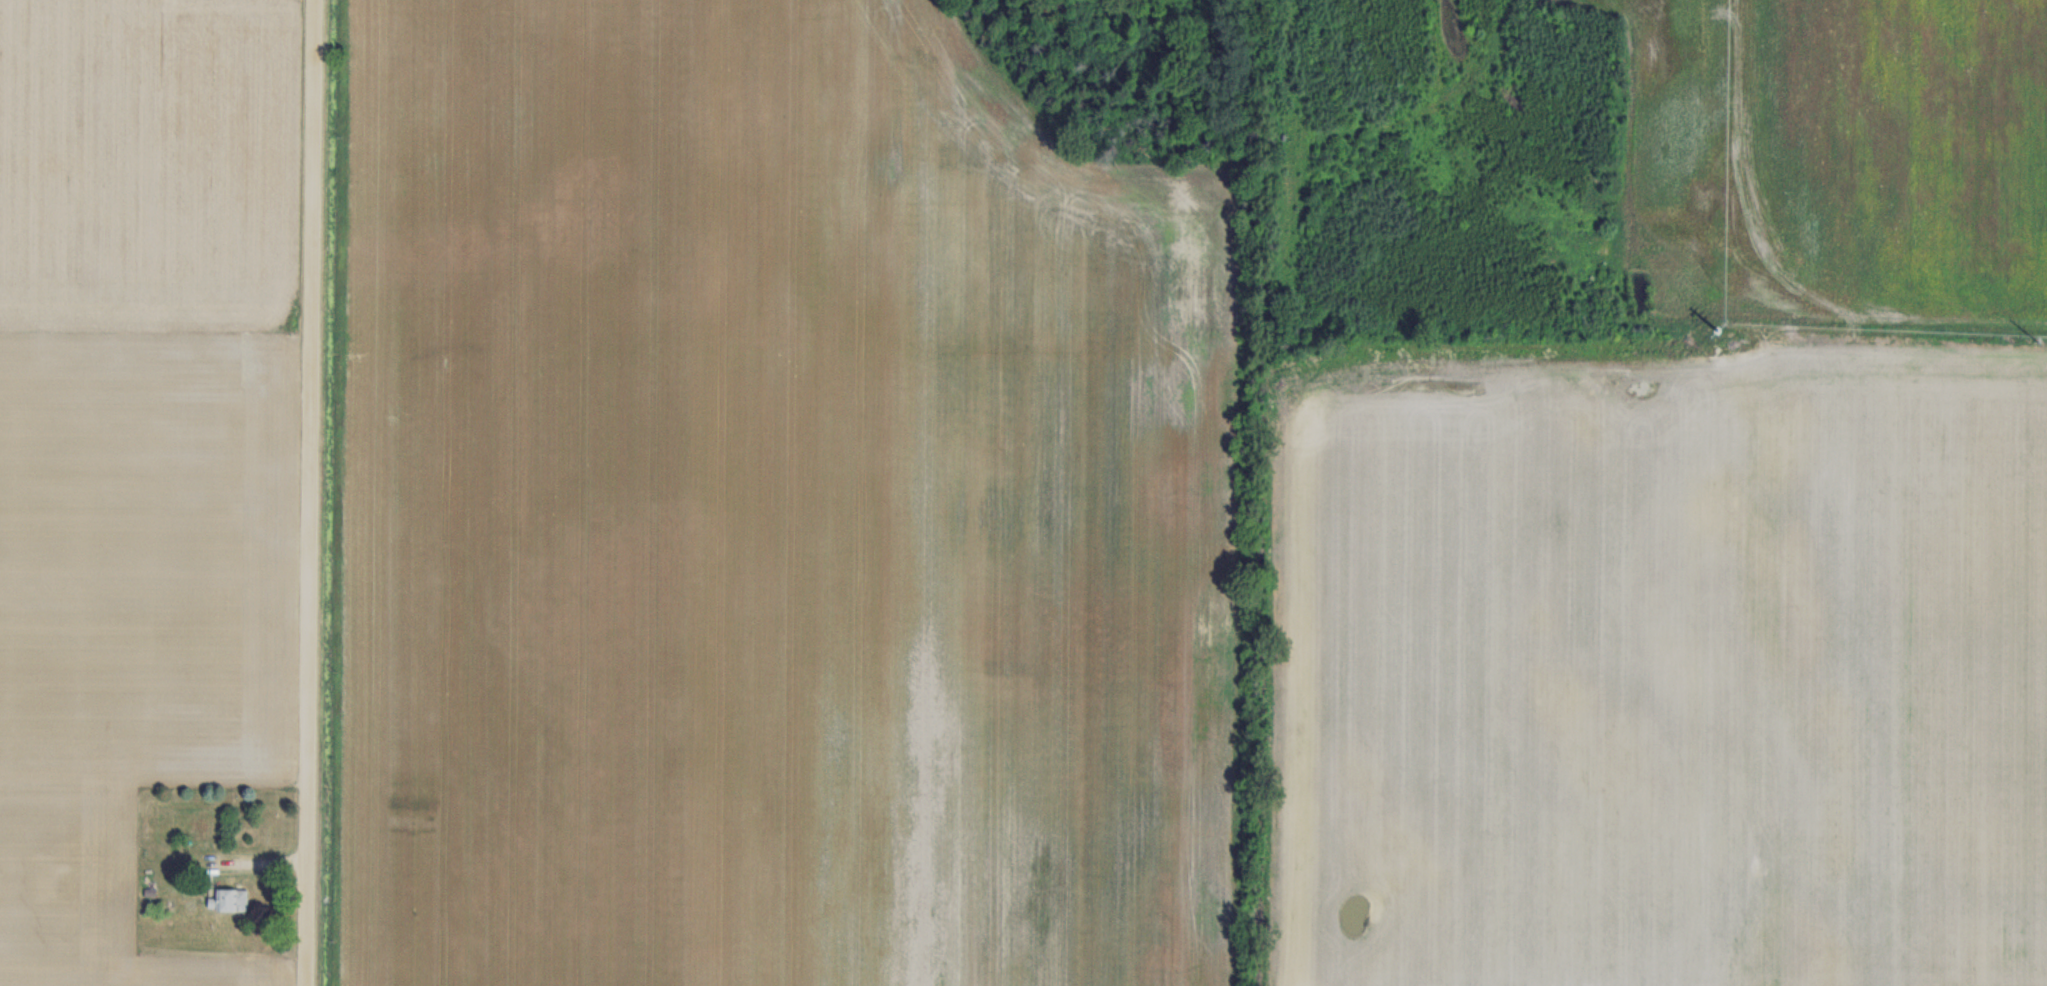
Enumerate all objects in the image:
power tower: (1720, 331)
road: (314, 492)
road: (151, 835)
building: (45, 876)
building: (228, 900)

